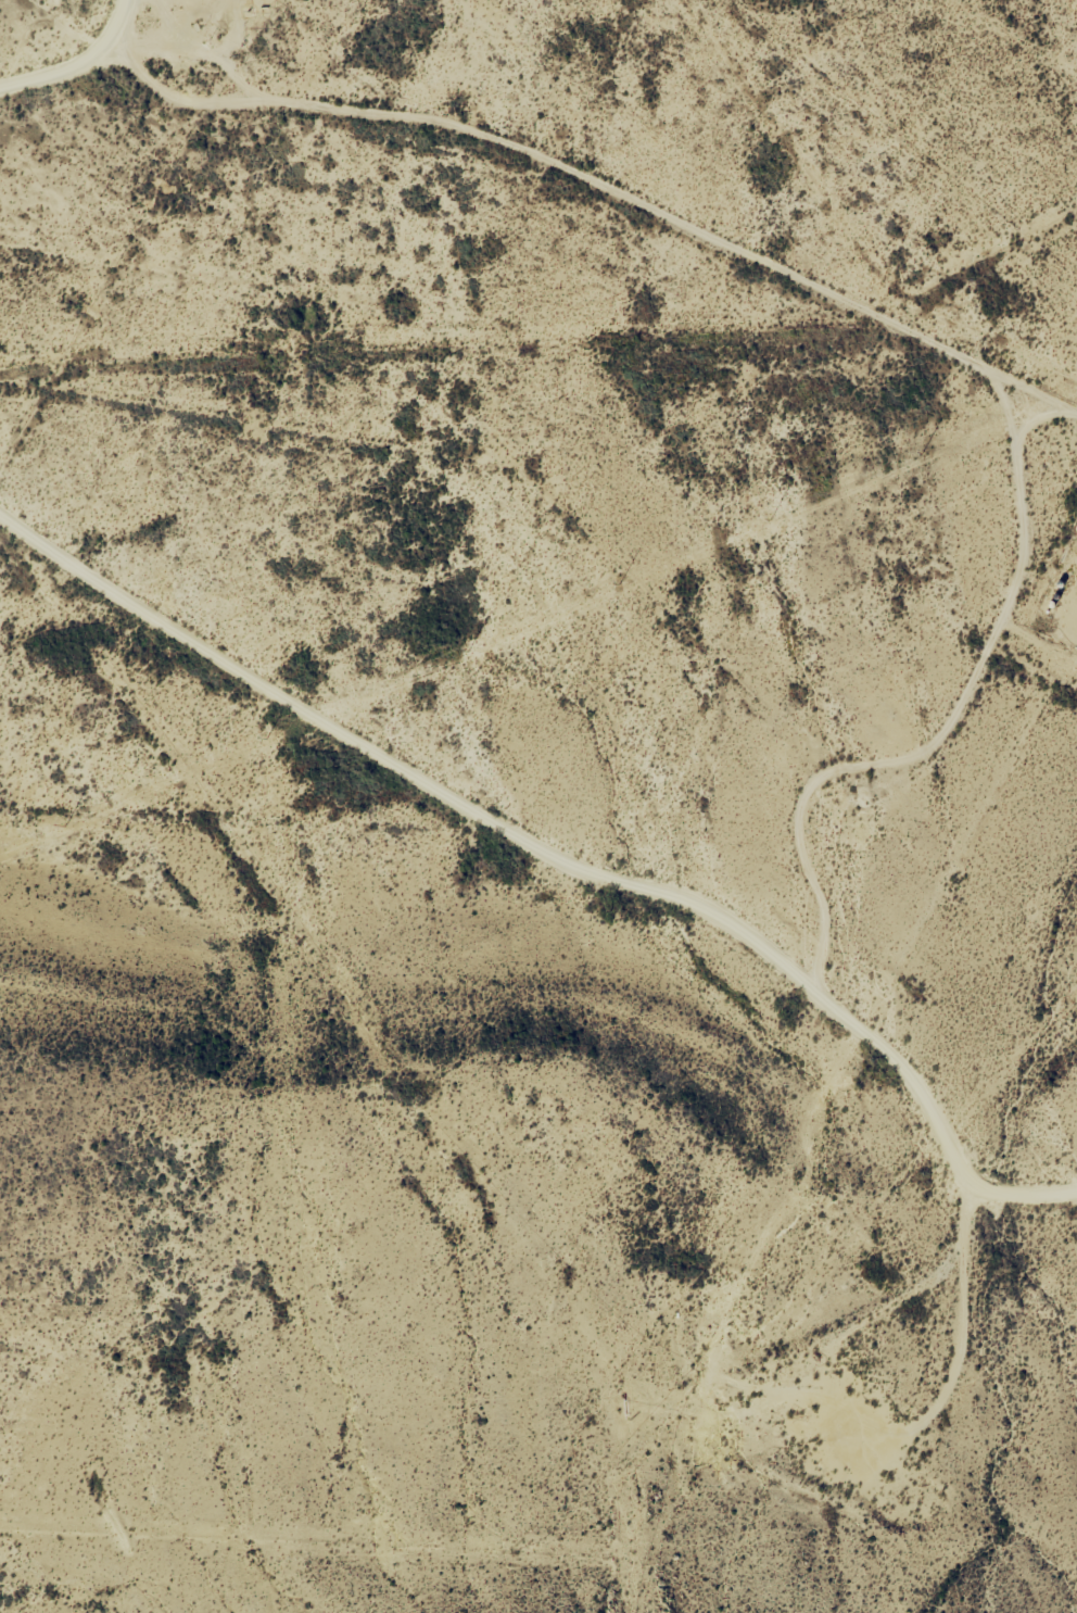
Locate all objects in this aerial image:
road: (74, 90)
power tower: (921, 454)
power tower: (769, 520)
power tower: (618, 585)
power tower: (466, 653)
road: (887, 731)
power tower: (265, 740)
power tower: (64, 827)
road: (548, 862)

